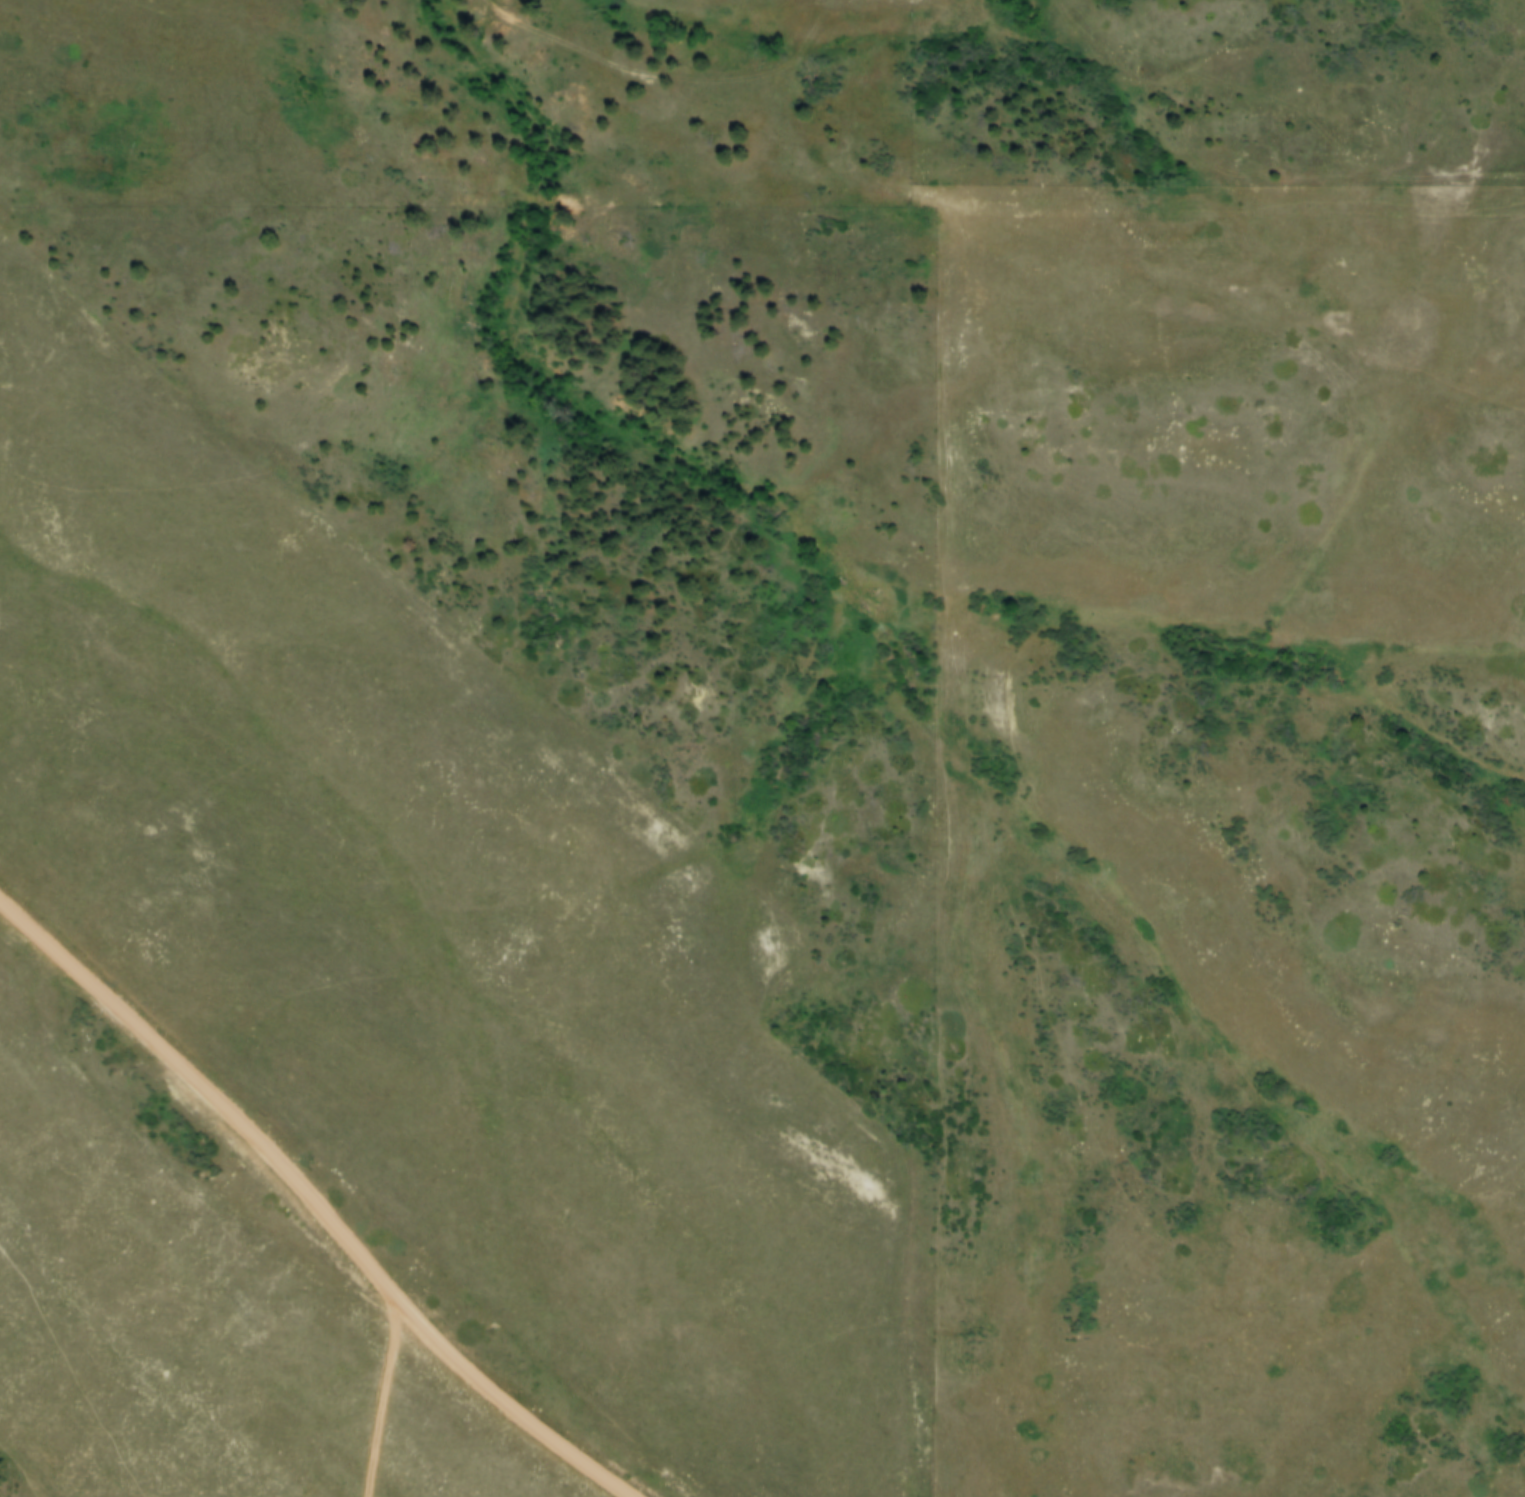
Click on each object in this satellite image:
road: (312, 1205)

